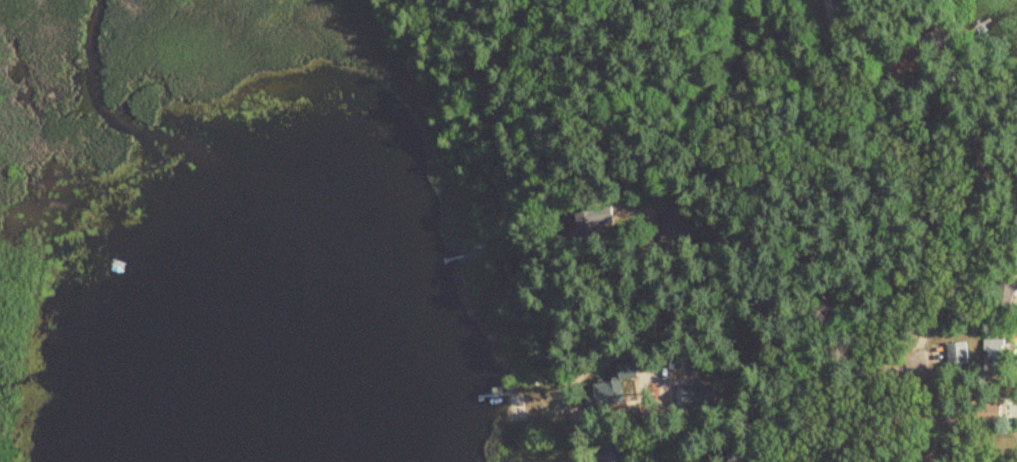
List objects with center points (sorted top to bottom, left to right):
road: (972, 236)
building: (1008, 286)
building: (961, 354)
building: (997, 356)
road: (938, 403)
road: (662, 440)
building: (615, 453)

